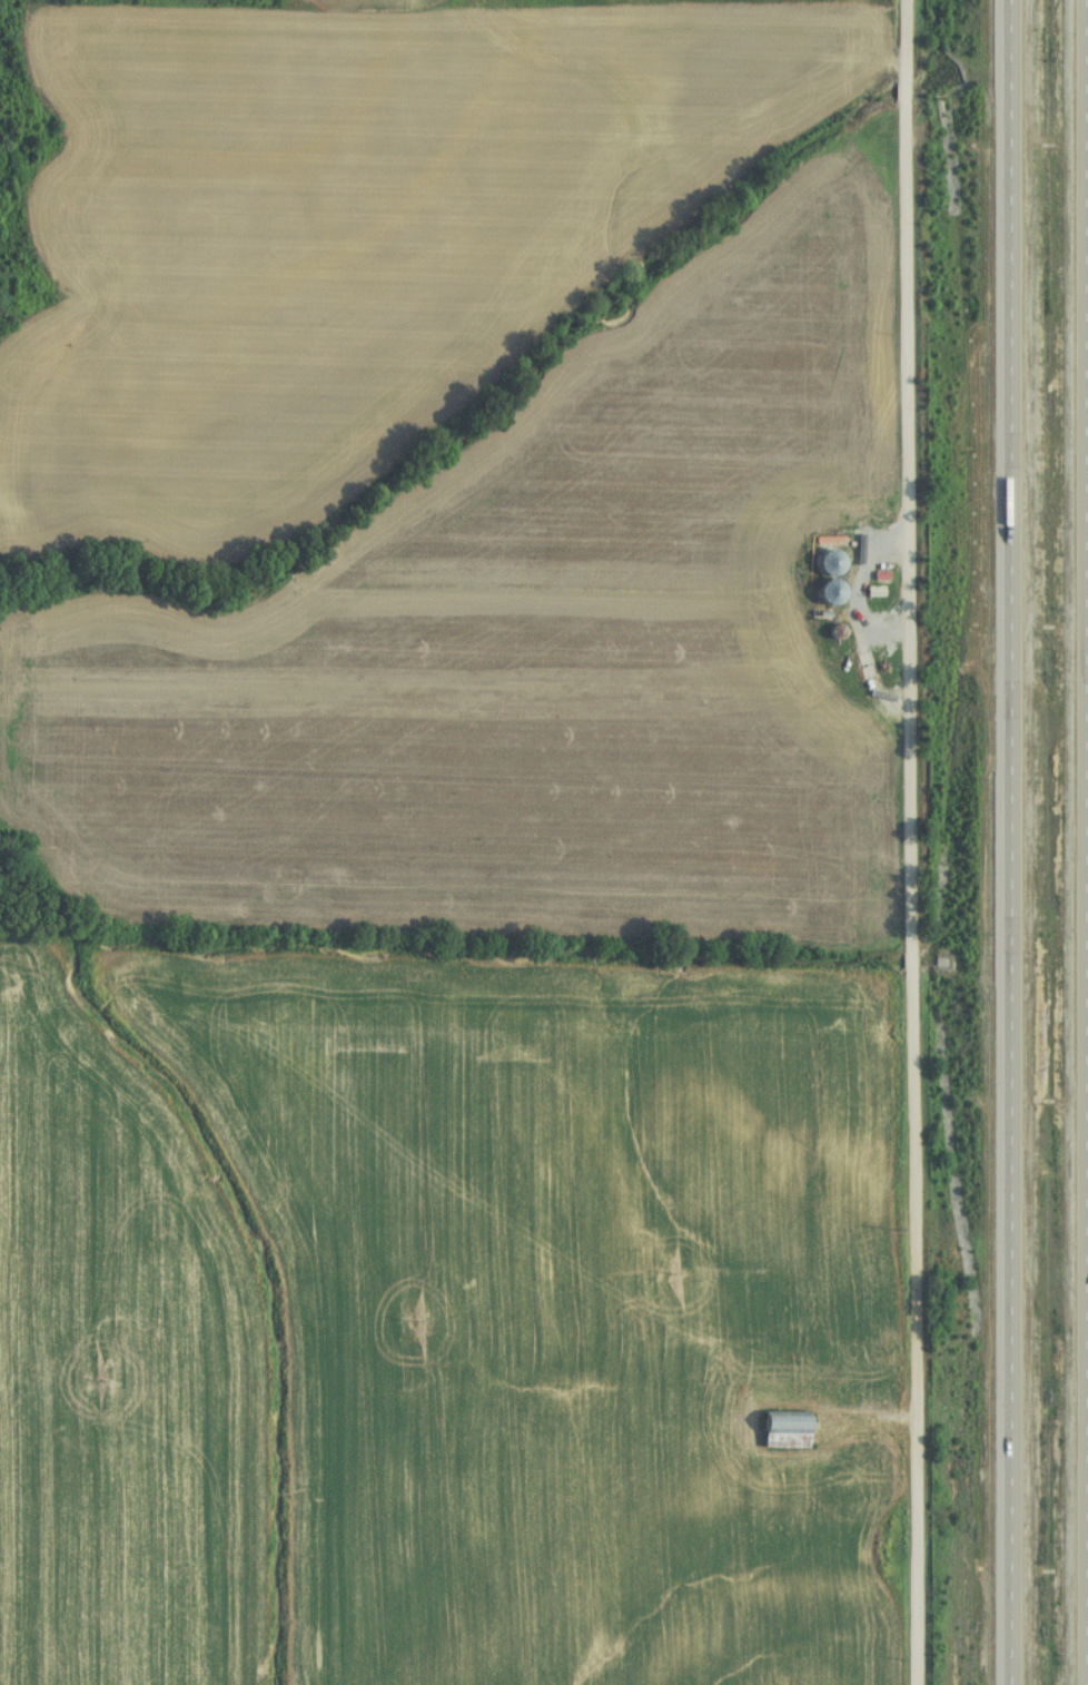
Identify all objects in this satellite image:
building: (824, 559)
road: (1006, 841)
road: (1080, 841)
road: (906, 842)
building: (779, 1430)

